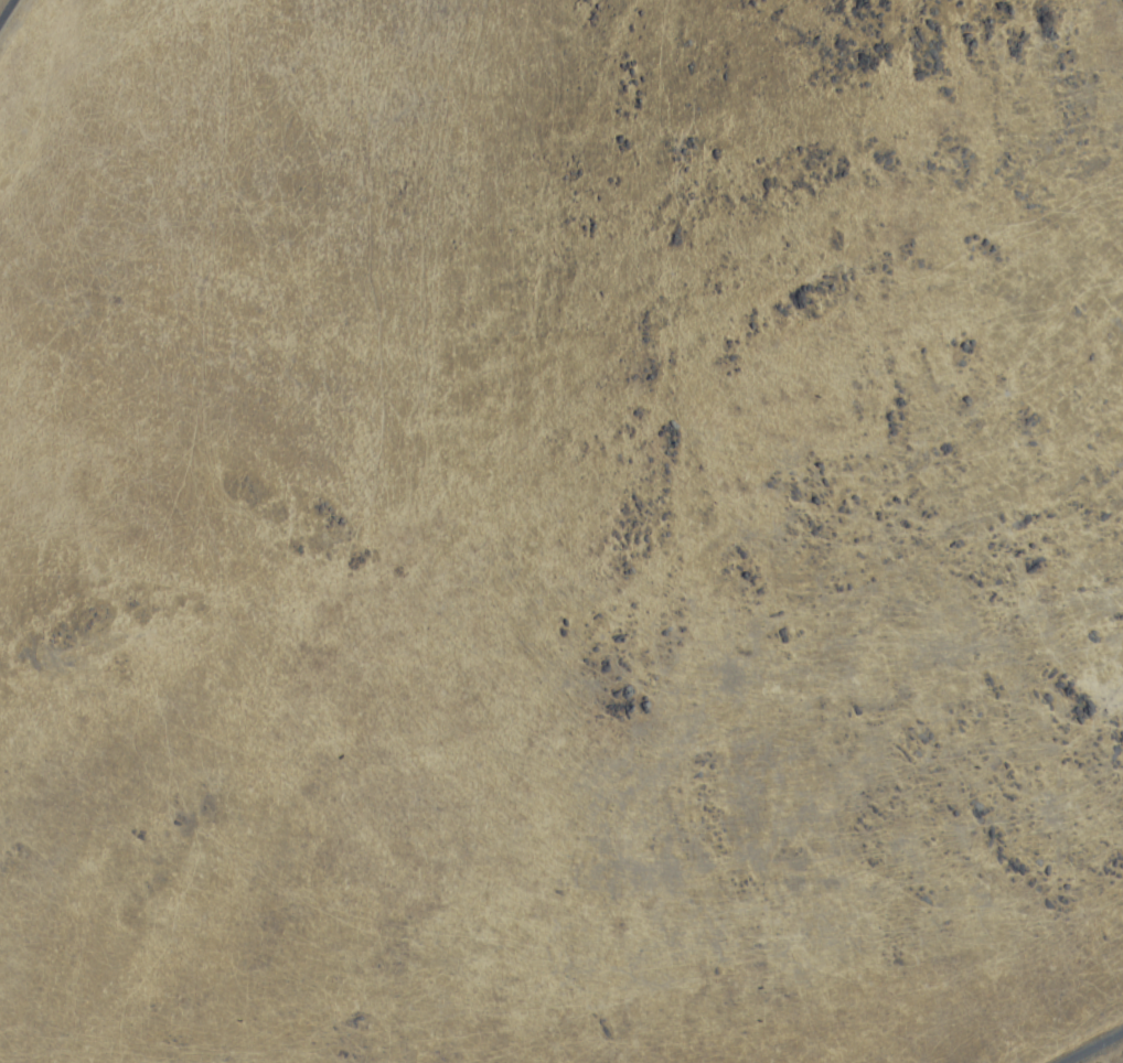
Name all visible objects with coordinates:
road: (9, 13)
road: (1091, 1046)

